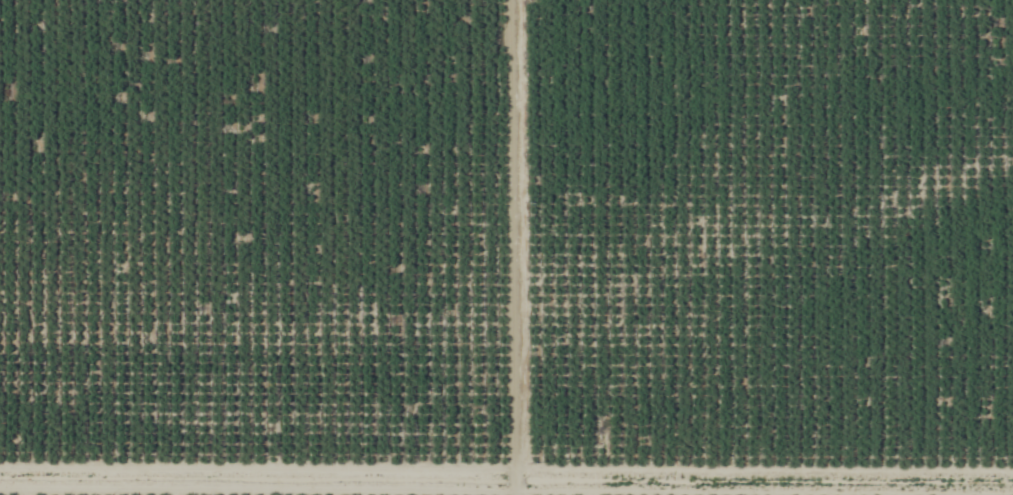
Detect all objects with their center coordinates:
road: (512, 247)

